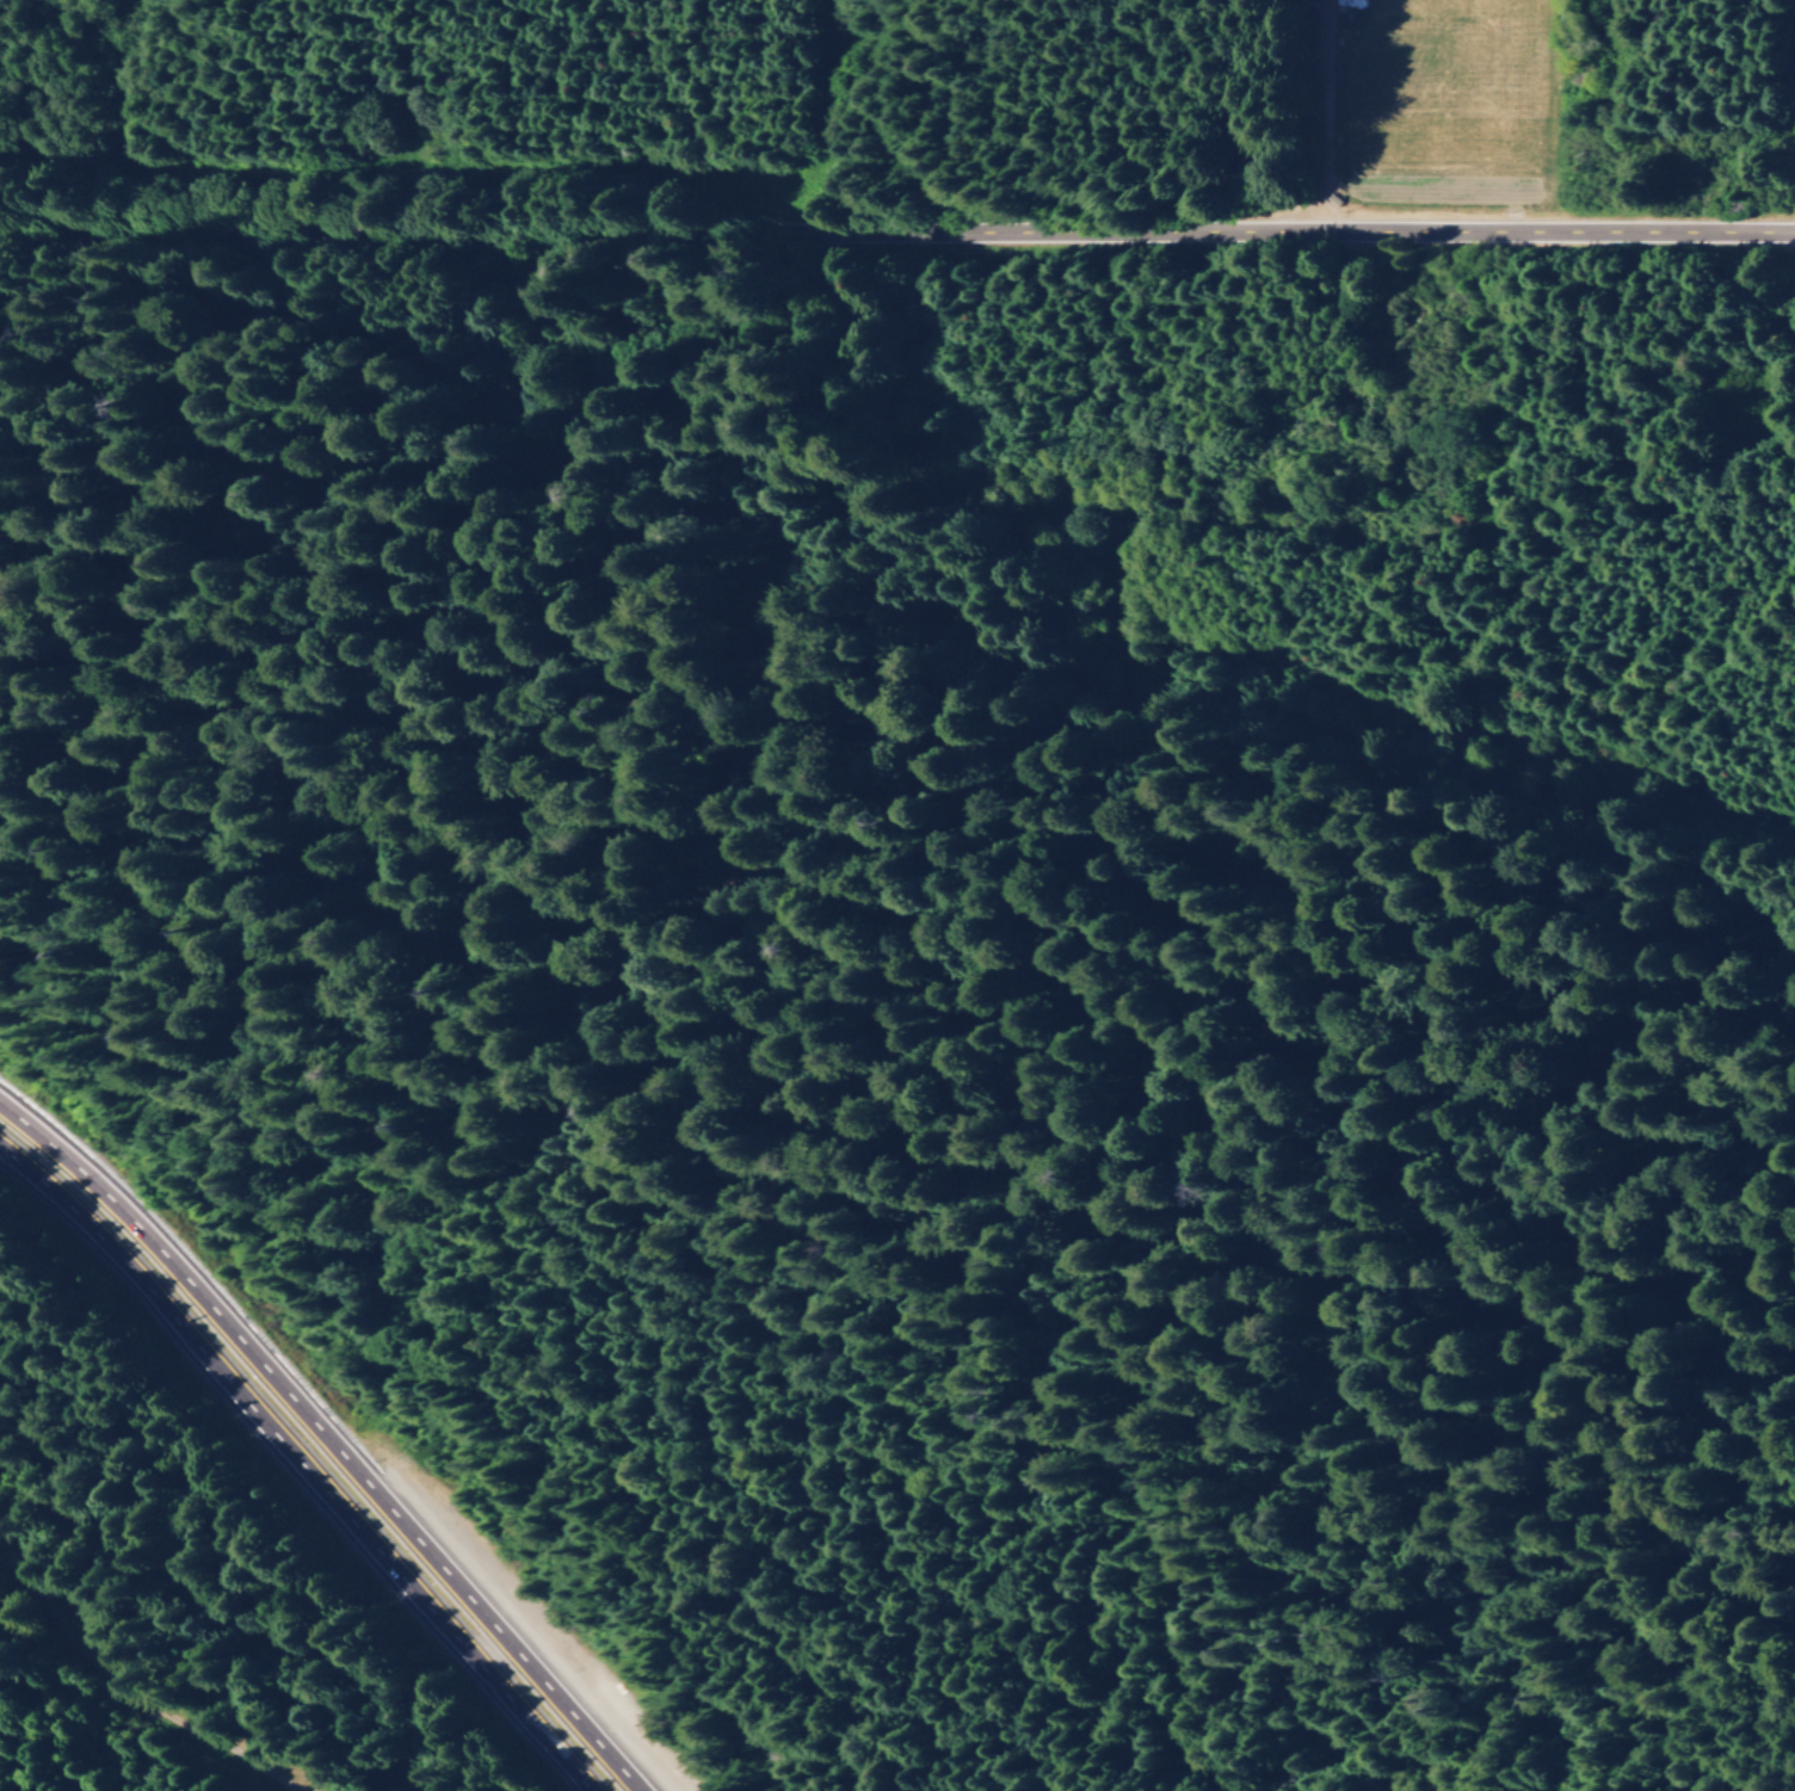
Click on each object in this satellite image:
road: (1183, 202)
road: (896, 237)
road: (459, 672)
road: (1059, 817)
road: (1630, 1223)
road: (1468, 1240)
road: (325, 1441)
road: (294, 1469)
road: (106, 1694)

